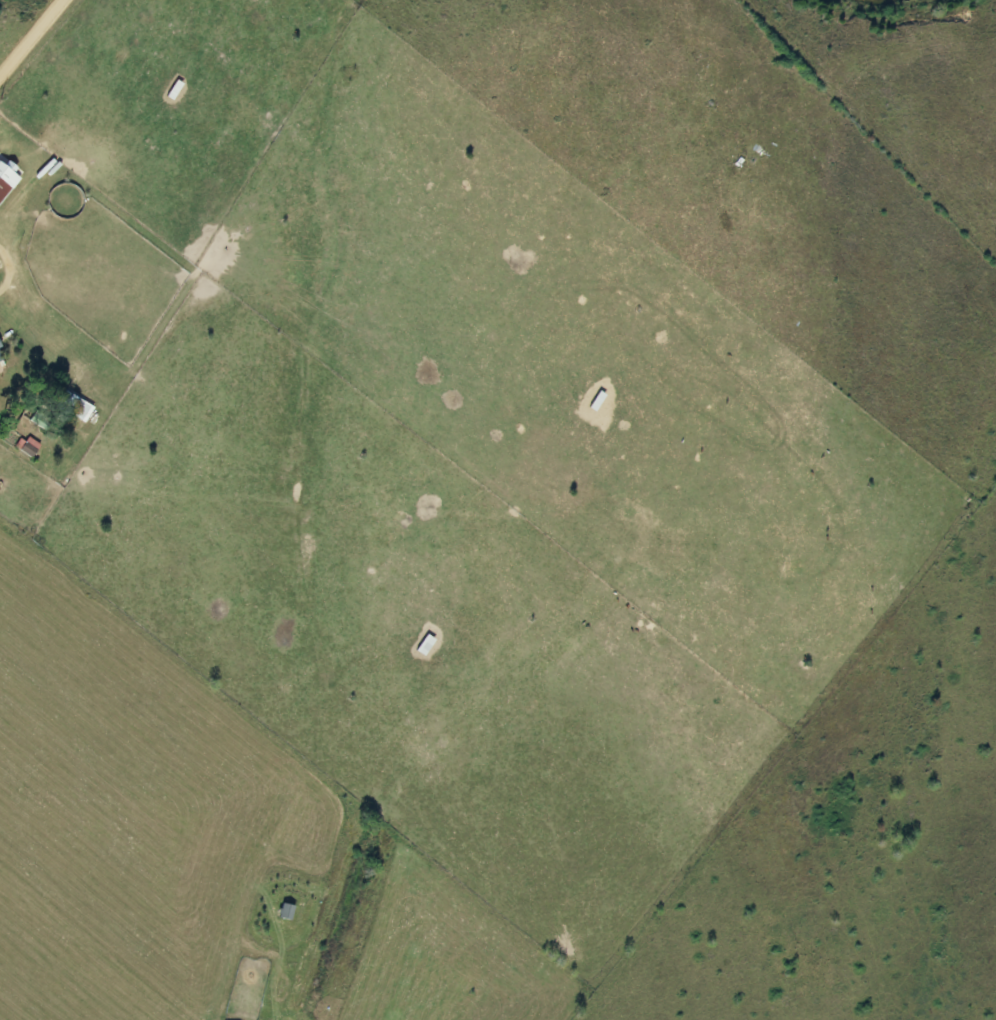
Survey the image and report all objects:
road: (31, 38)
building: (175, 90)
building: (2, 189)
road: (7, 272)
building: (1, 358)
building: (77, 408)

